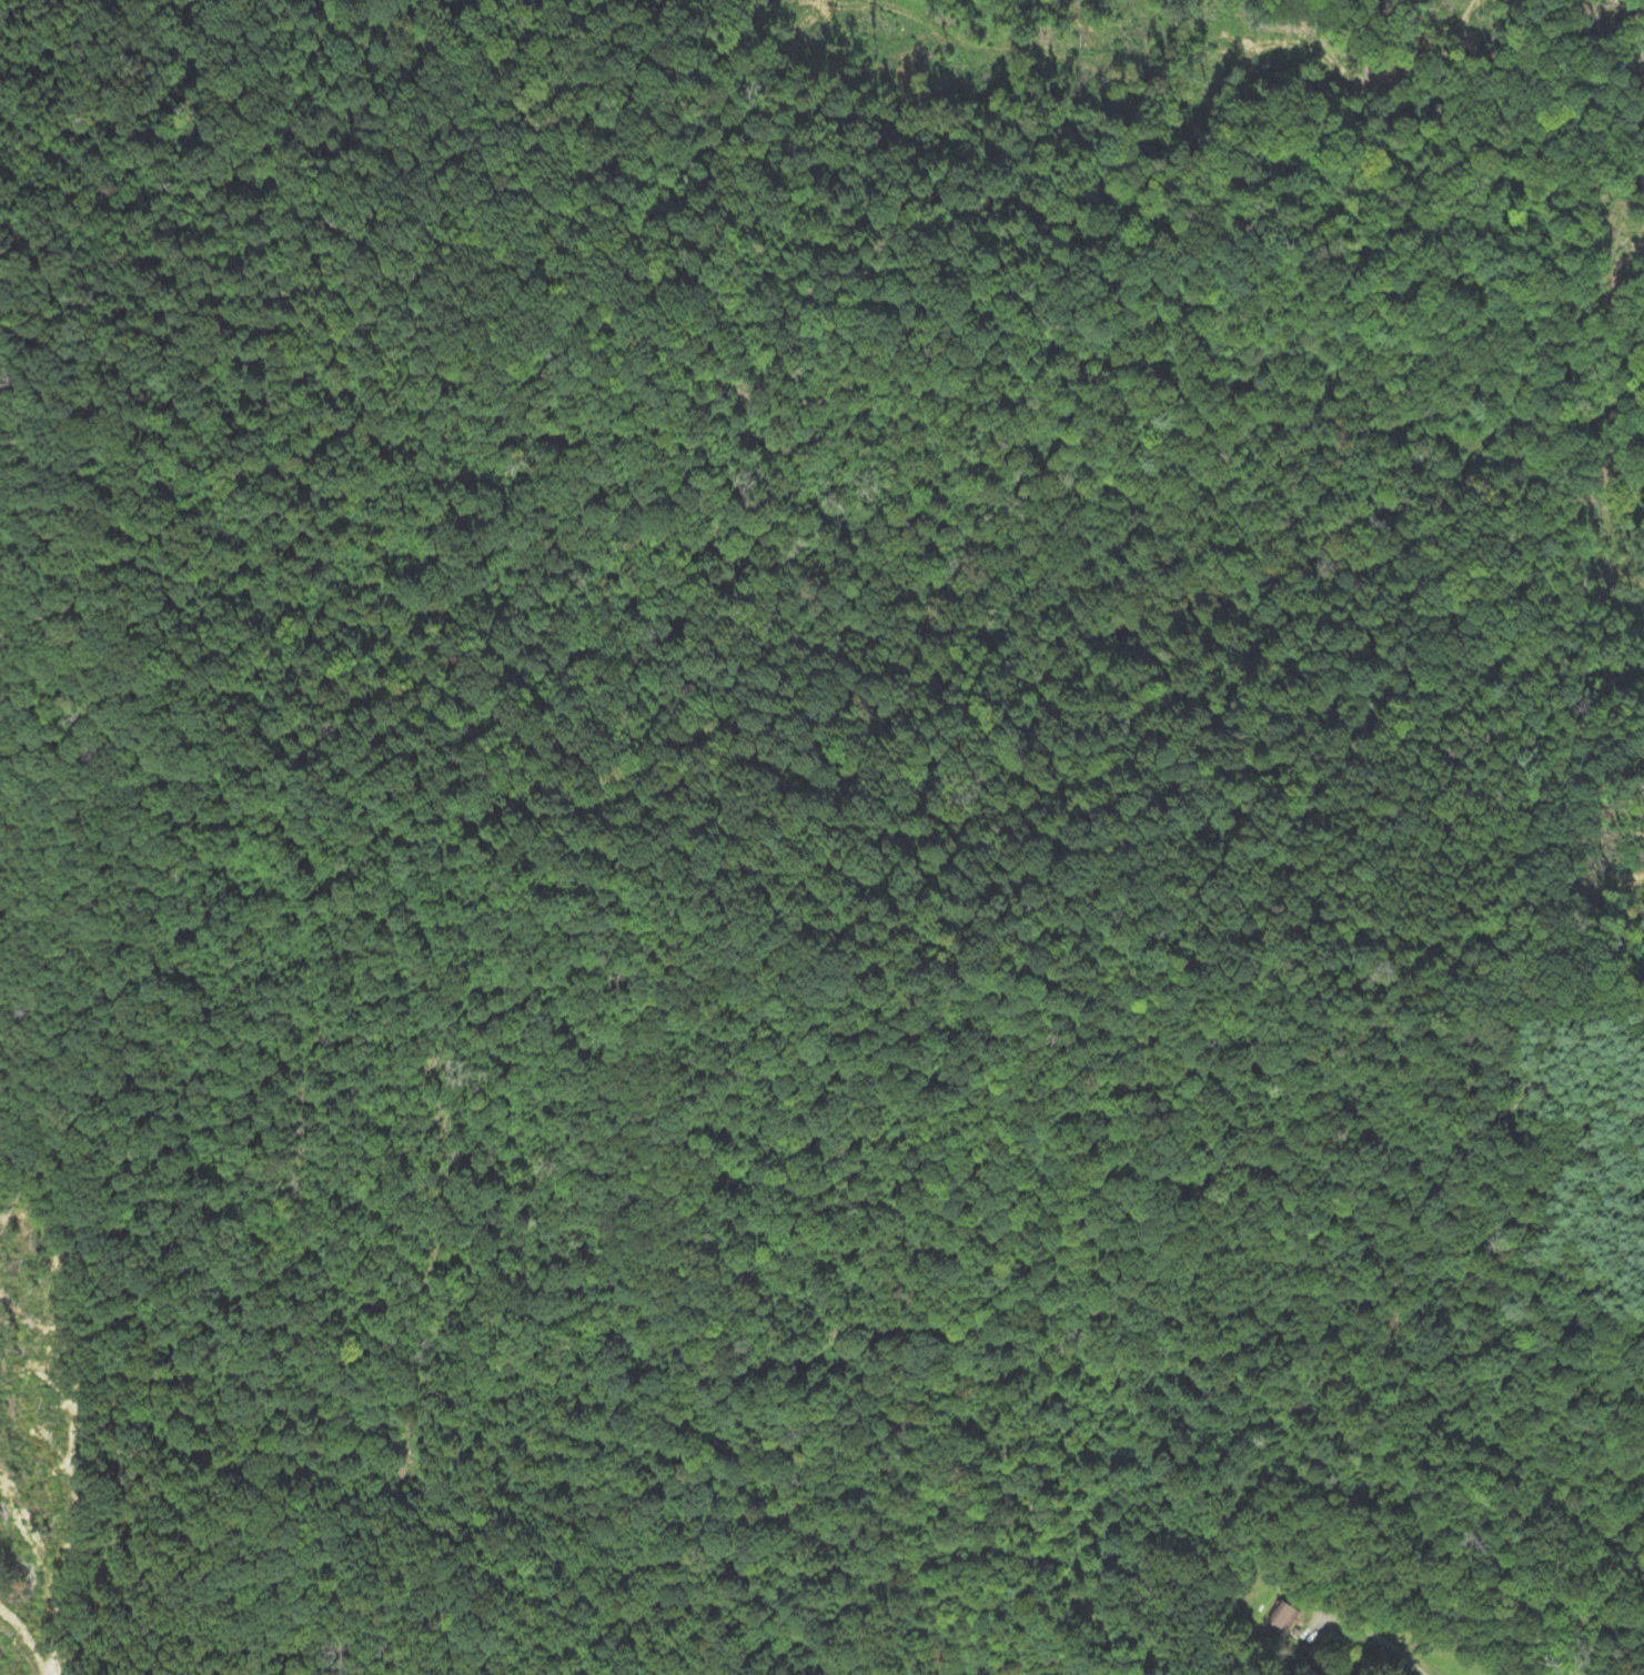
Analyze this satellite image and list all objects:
building: (1282, 1618)
road: (1381, 1646)

